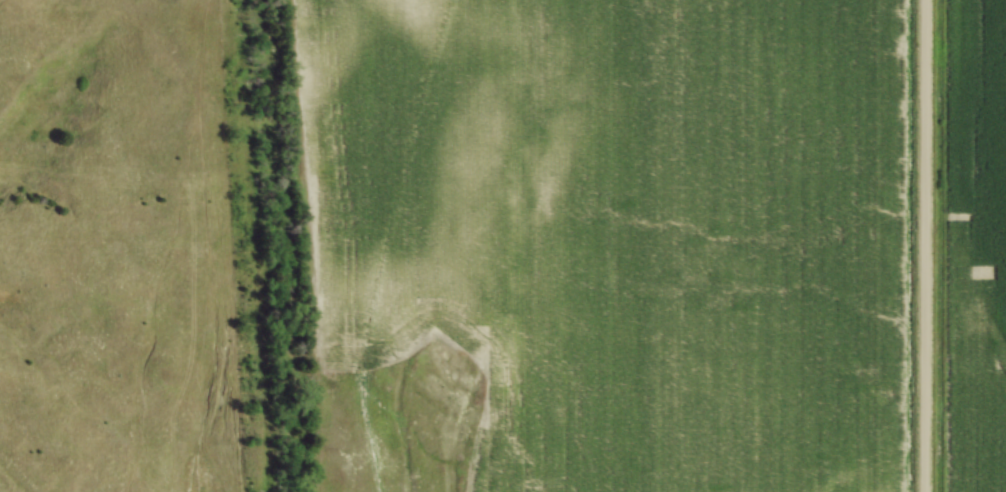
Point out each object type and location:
road: (925, 246)

